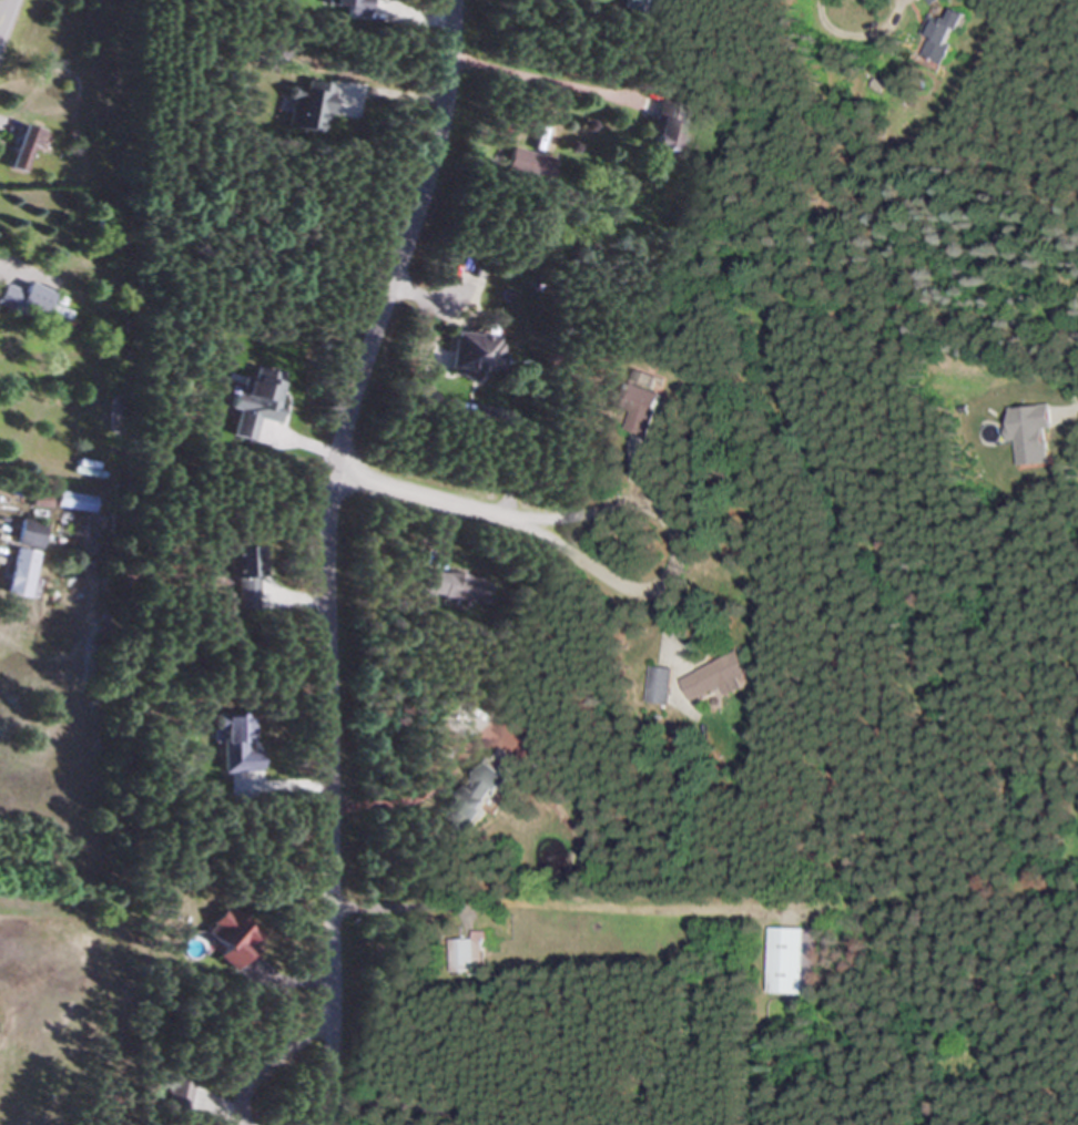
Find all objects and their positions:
building: (642, 1)
road: (2, 7)
building: (346, 8)
road: (863, 32)
building: (938, 35)
road: (542, 80)
building: (307, 106)
building: (661, 125)
building: (22, 146)
road: (28, 268)
building: (23, 300)
building: (472, 351)
building: (254, 399)
building: (635, 403)
road: (425, 499)
building: (73, 501)
road: (326, 503)
road: (612, 508)
building: (26, 534)
road: (591, 569)
building: (19, 572)
building: (243, 575)
building: (454, 586)
building: (716, 678)
building: (658, 686)
building: (235, 744)
road: (413, 790)
building: (474, 801)
road: (561, 903)
building: (230, 937)
building: (466, 953)
building: (791, 961)
road: (308, 1033)
building: (176, 1094)

